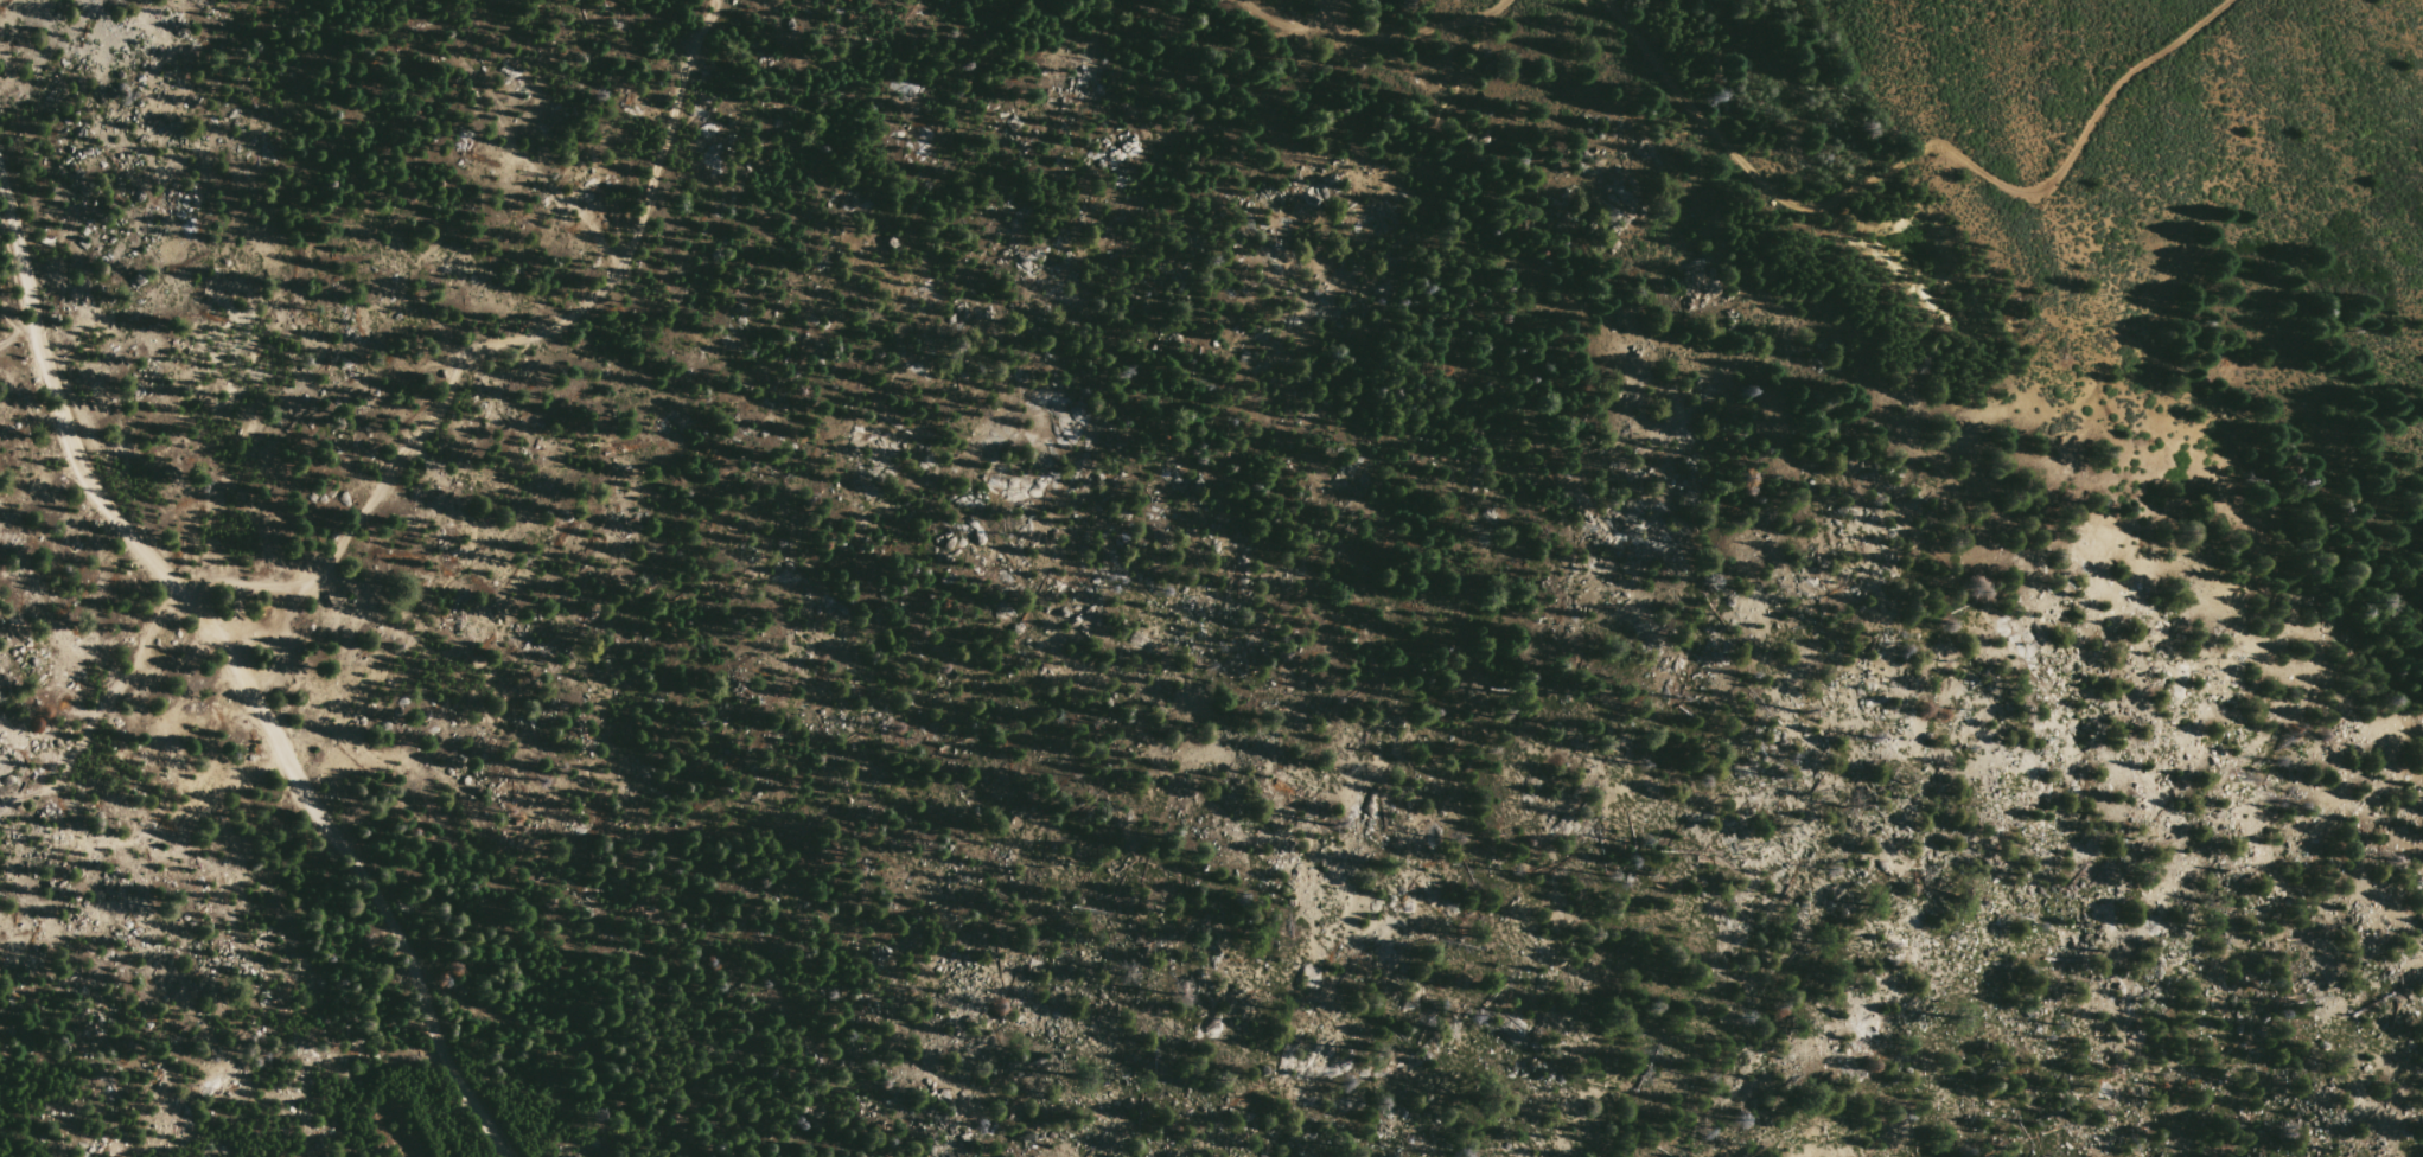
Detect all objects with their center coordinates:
road: (1371, 32)
road: (1911, 159)
road: (19, 334)
road: (500, 344)
road: (240, 669)
road: (101, 709)

